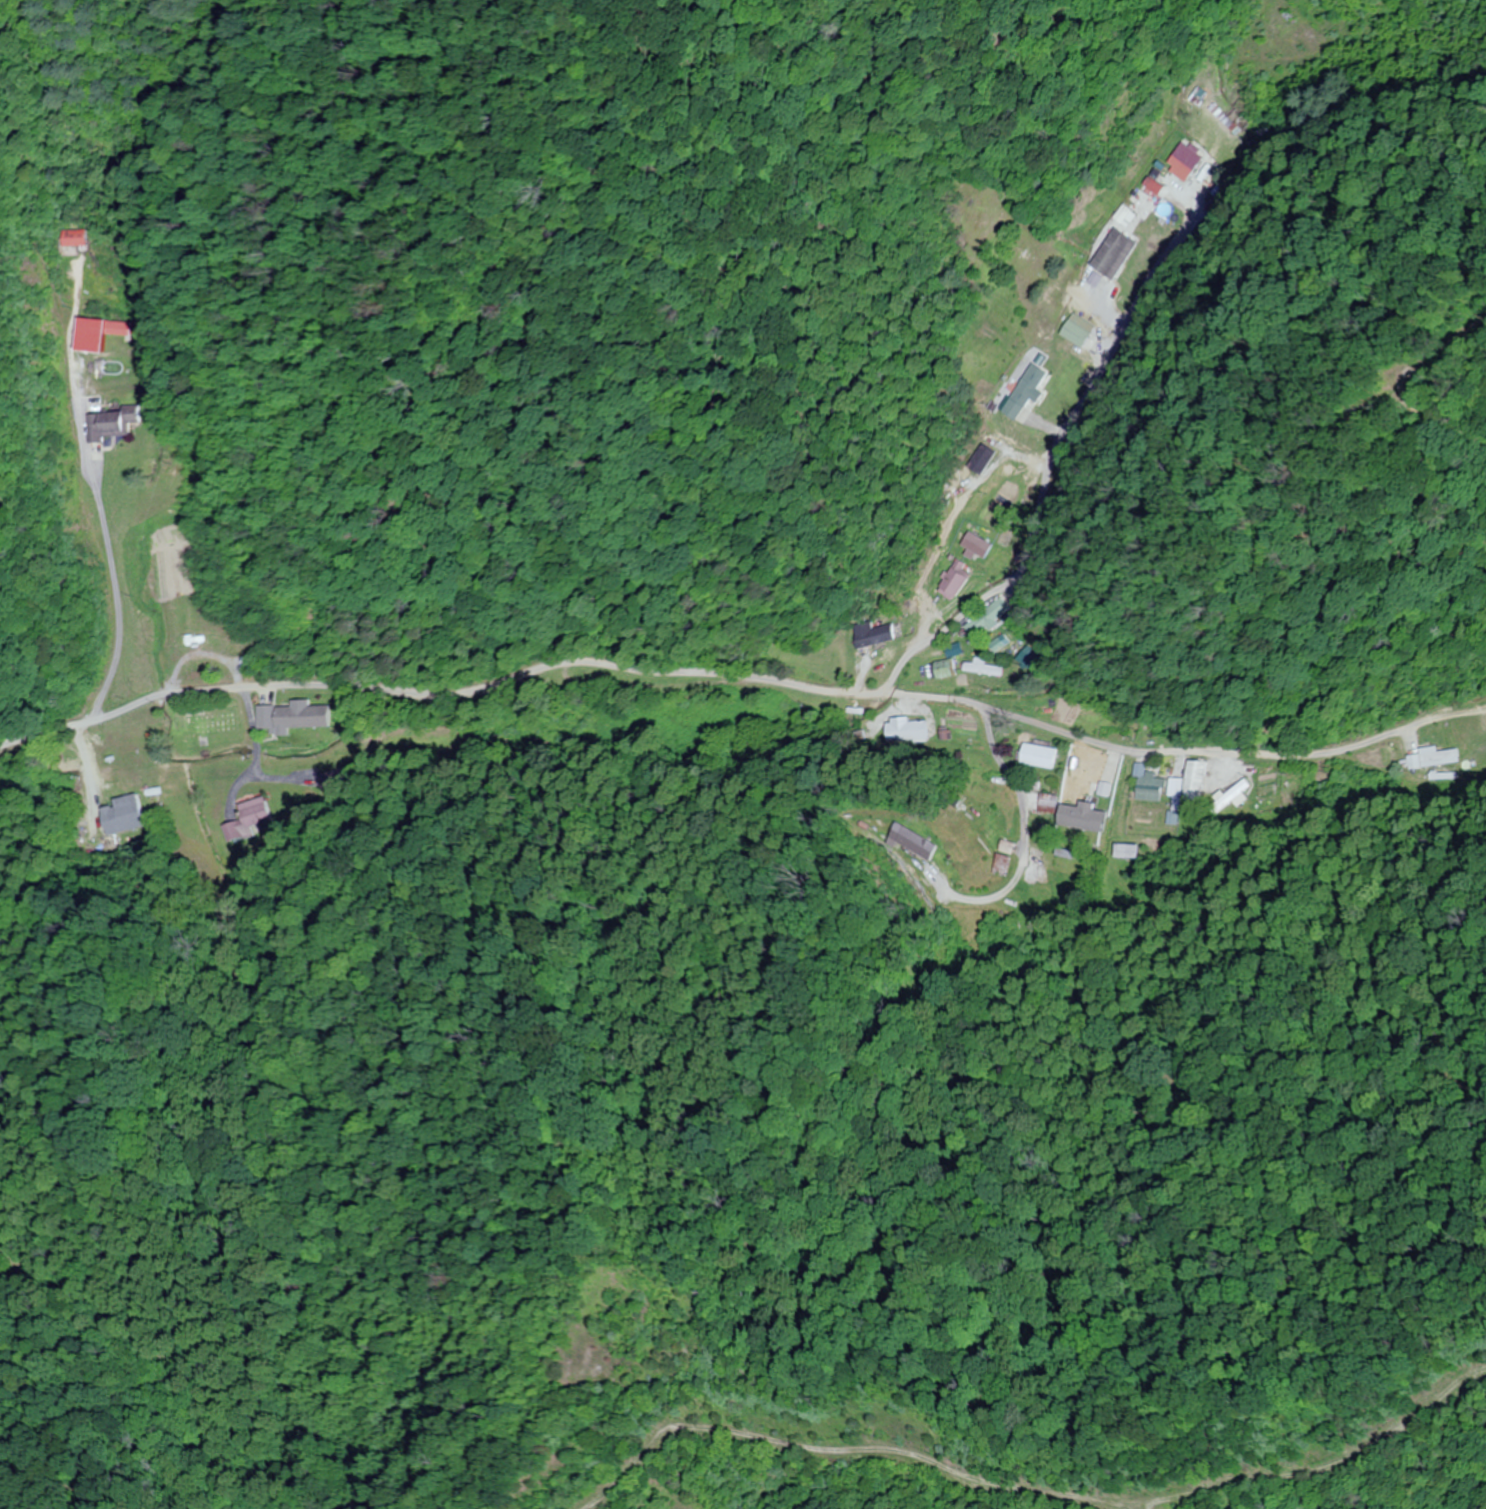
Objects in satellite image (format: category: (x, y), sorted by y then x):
building: (1183, 160)
building: (69, 238)
building: (1107, 252)
building: (1074, 330)
building: (94, 333)
building: (1023, 392)
building: (109, 424)
building: (978, 459)
road: (1023, 516)
building: (976, 545)
building: (954, 580)
road: (1008, 590)
building: (987, 620)
building: (870, 634)
road: (928, 648)
building: (947, 669)
road: (550, 670)
building: (1041, 756)
building: (1148, 786)
building: (1189, 786)
building: (1052, 803)
building: (124, 814)
building: (253, 817)
building: (990, 825)
building: (924, 844)
building: (1011, 847)
building: (1130, 851)
building: (1074, 861)
building: (1007, 864)

